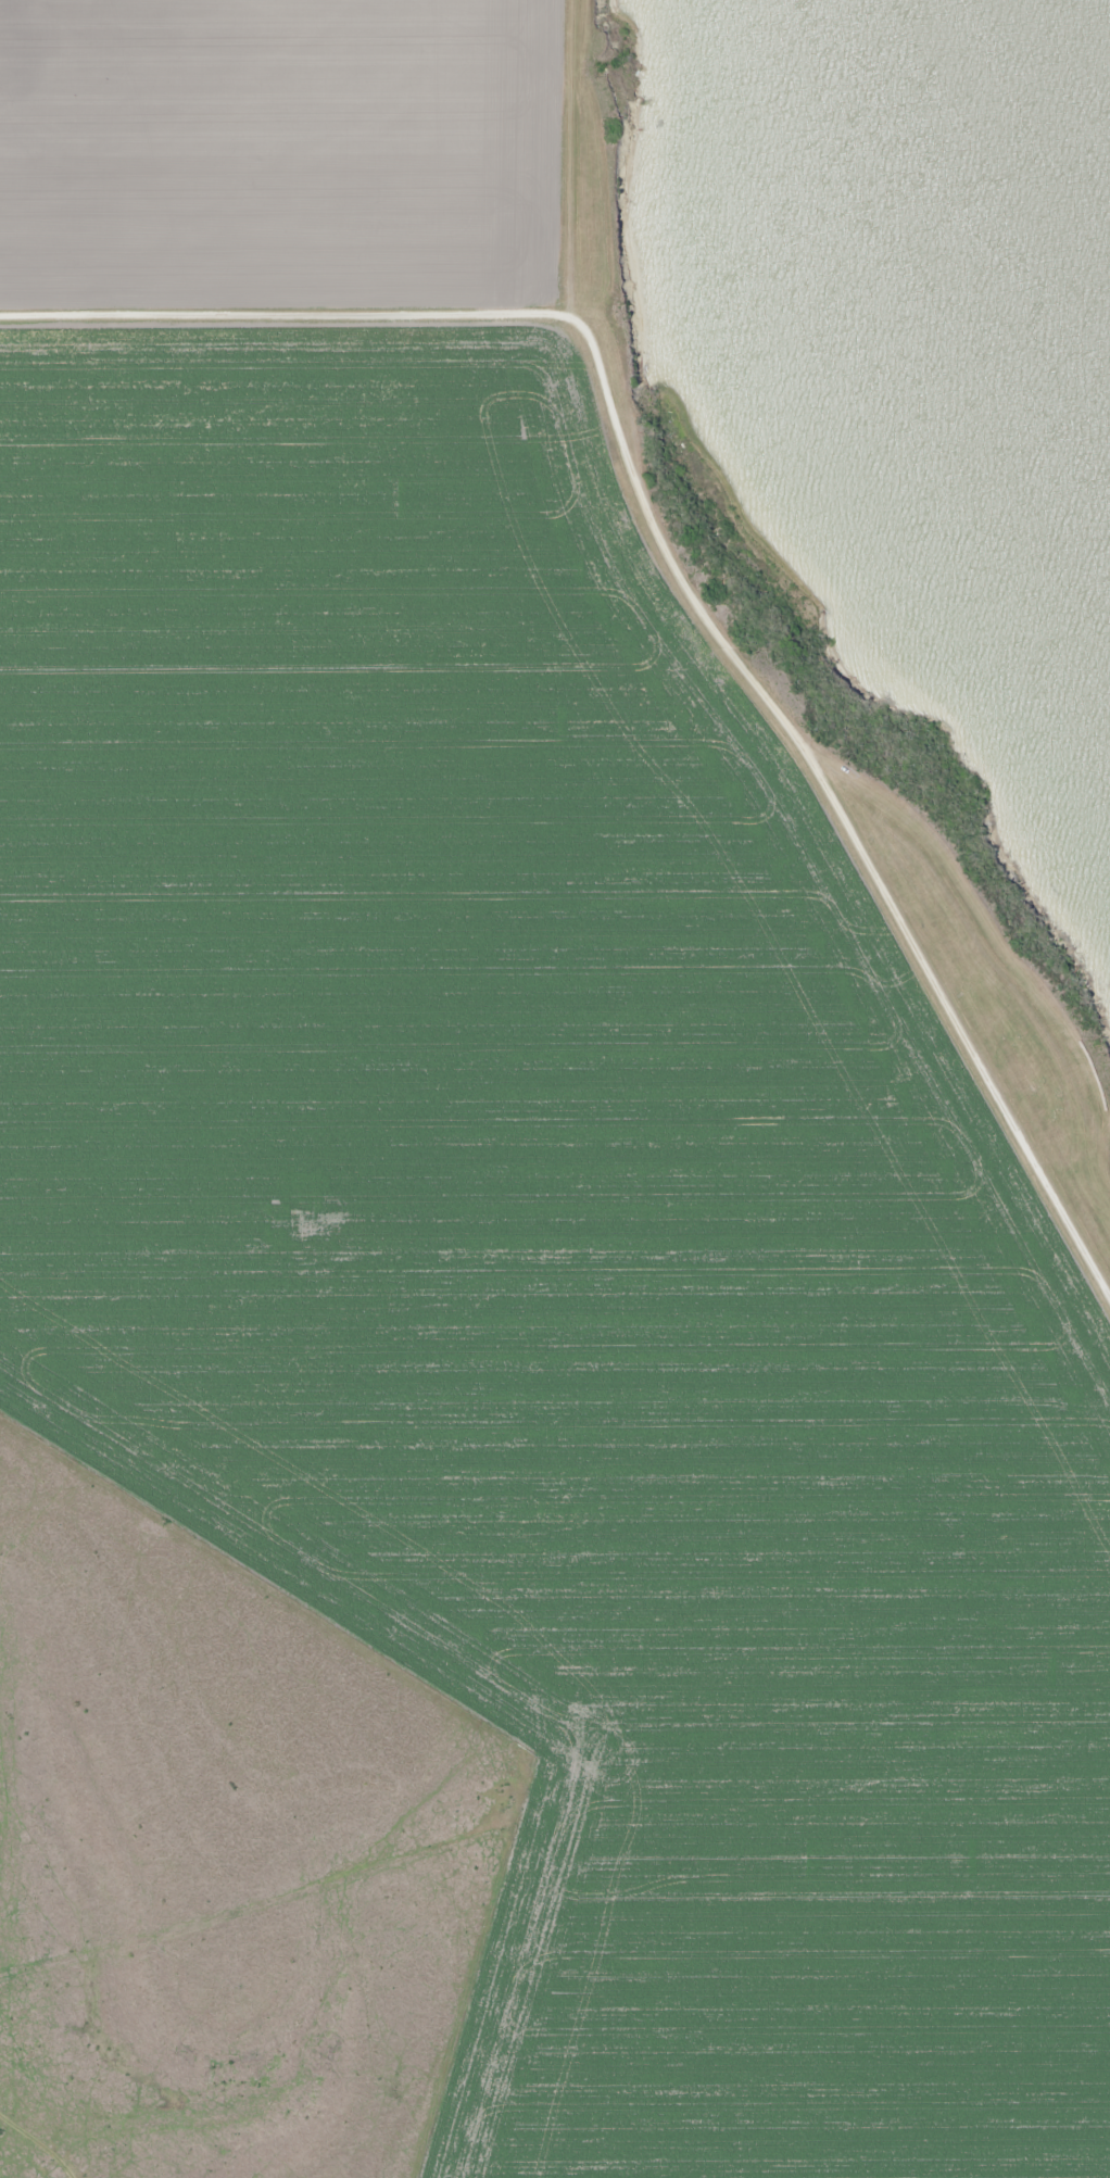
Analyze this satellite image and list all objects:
road: (677, 571)

